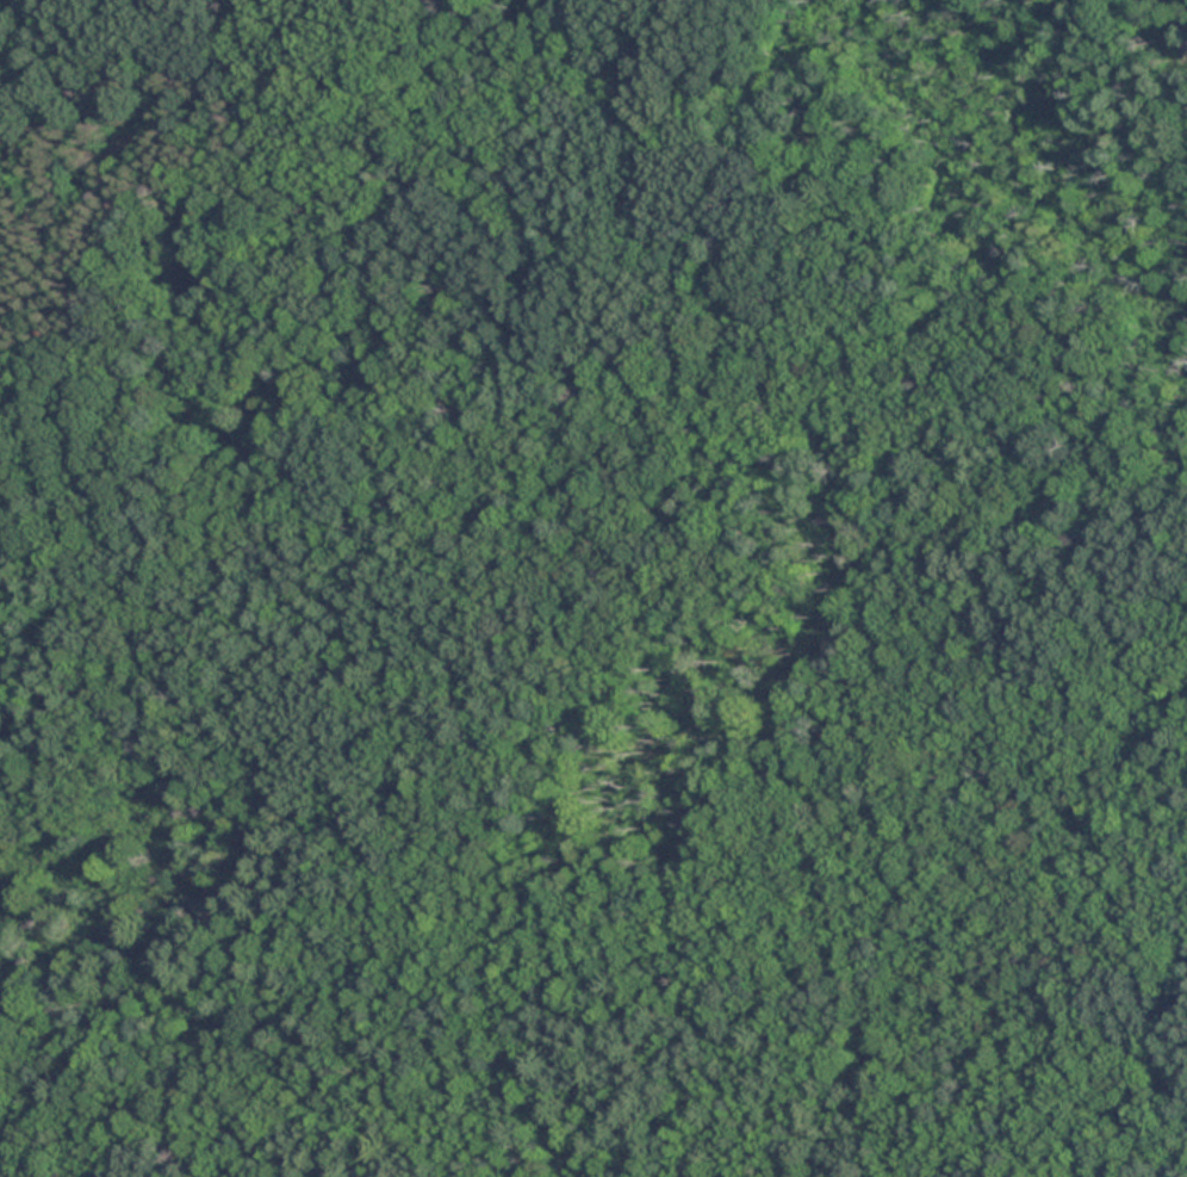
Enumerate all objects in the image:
park: (593, 588)

